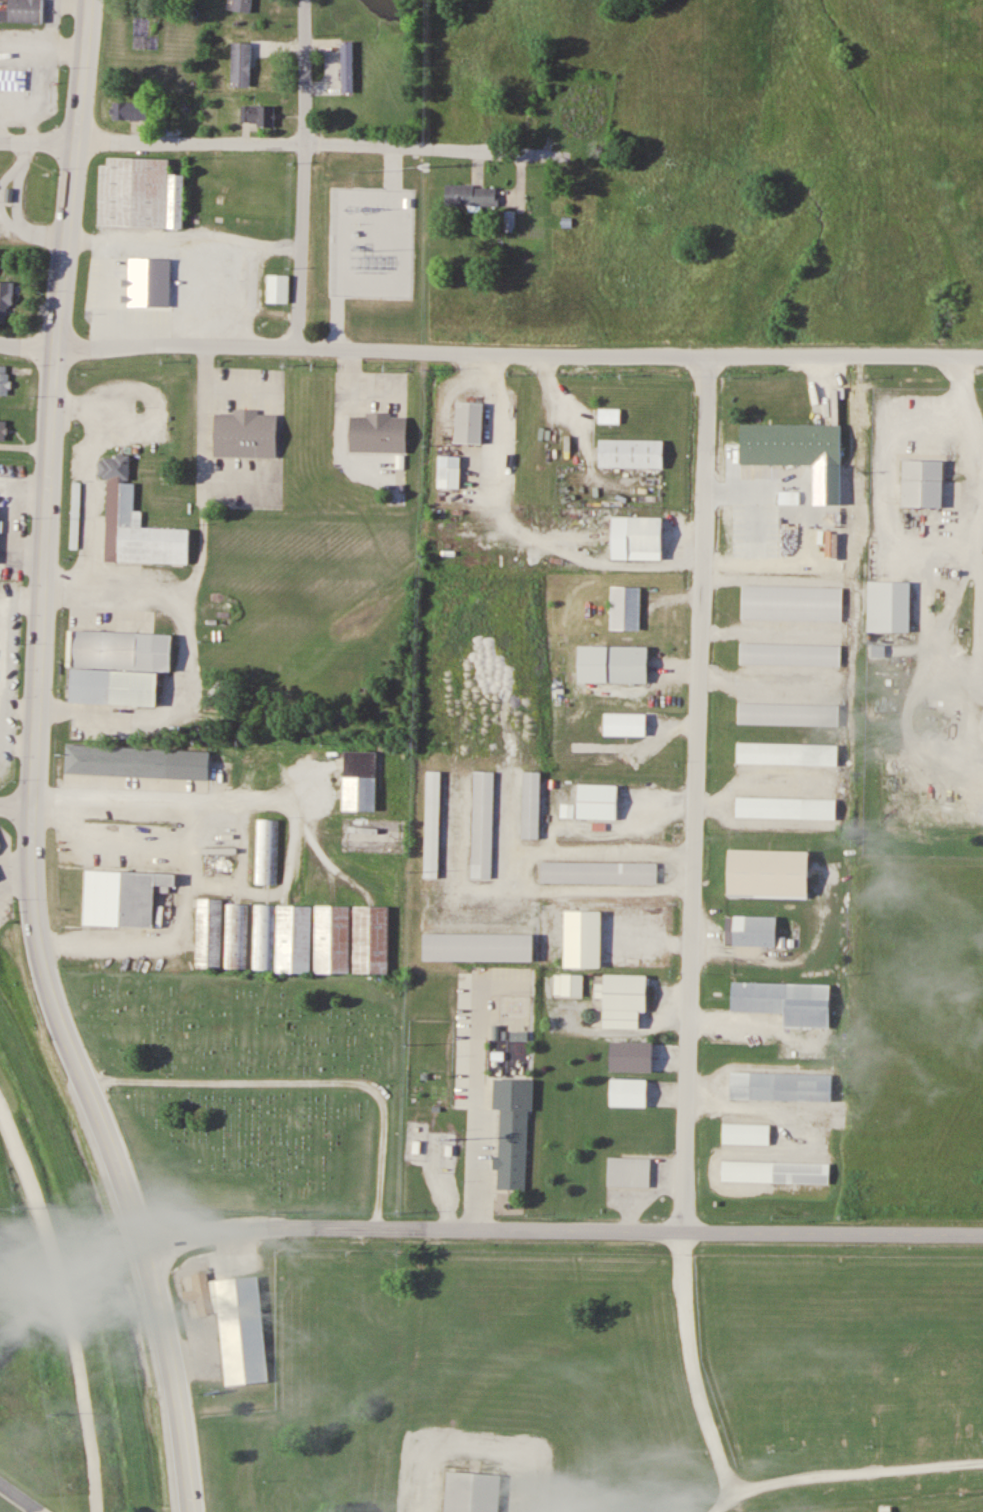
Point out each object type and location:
building: (245, 1)
building: (22, 11)
building: (261, 62)
building: (347, 66)
building: (19, 80)
building: (129, 111)
building: (257, 115)
building: (578, 123)
road: (273, 142)
road: (71, 173)
road: (304, 173)
building: (140, 194)
building: (471, 195)
power substation: (369, 240)
building: (152, 280)
building: (277, 289)
building: (6, 301)
road: (491, 353)
building: (5, 380)
building: (609, 415)
building: (469, 422)
building: (3, 430)
building: (376, 432)
building: (243, 434)
building: (789, 442)
building: (631, 452)
building: (448, 471)
building: (923, 482)
building: (125, 485)
building: (2, 524)
building: (636, 537)
building: (792, 602)
building: (889, 605)
building: (625, 607)
building: (790, 653)
building: (120, 659)
building: (626, 662)
building: (788, 712)
building: (624, 723)
building: (789, 746)
building: (140, 755)
building: (360, 780)
road: (696, 792)
building: (601, 795)
building: (788, 801)
building: (532, 804)
road: (16, 805)
building: (433, 823)
building: (483, 823)
building: (1, 846)
building: (267, 852)
building: (605, 866)
building: (770, 869)
building: (123, 891)
building: (755, 930)
building: (209, 933)
building: (236, 935)
building: (583, 936)
building: (263, 937)
building: (372, 937)
building: (294, 938)
building: (333, 938)
road: (40, 940)
building: (479, 940)
building: (569, 984)
building: (626, 999)
building: (787, 1000)
road: (300, 1081)
park: (256, 1085)
building: (780, 1085)
building: (630, 1090)
building: (515, 1131)
building: (747, 1131)
building: (777, 1170)
building: (629, 1171)
road: (563, 1227)
park: (46, 1302)
road: (65, 1307)
building: (237, 1322)
road: (695, 1359)
road: (837, 1469)
building: (473, 1487)
road: (20, 1498)

